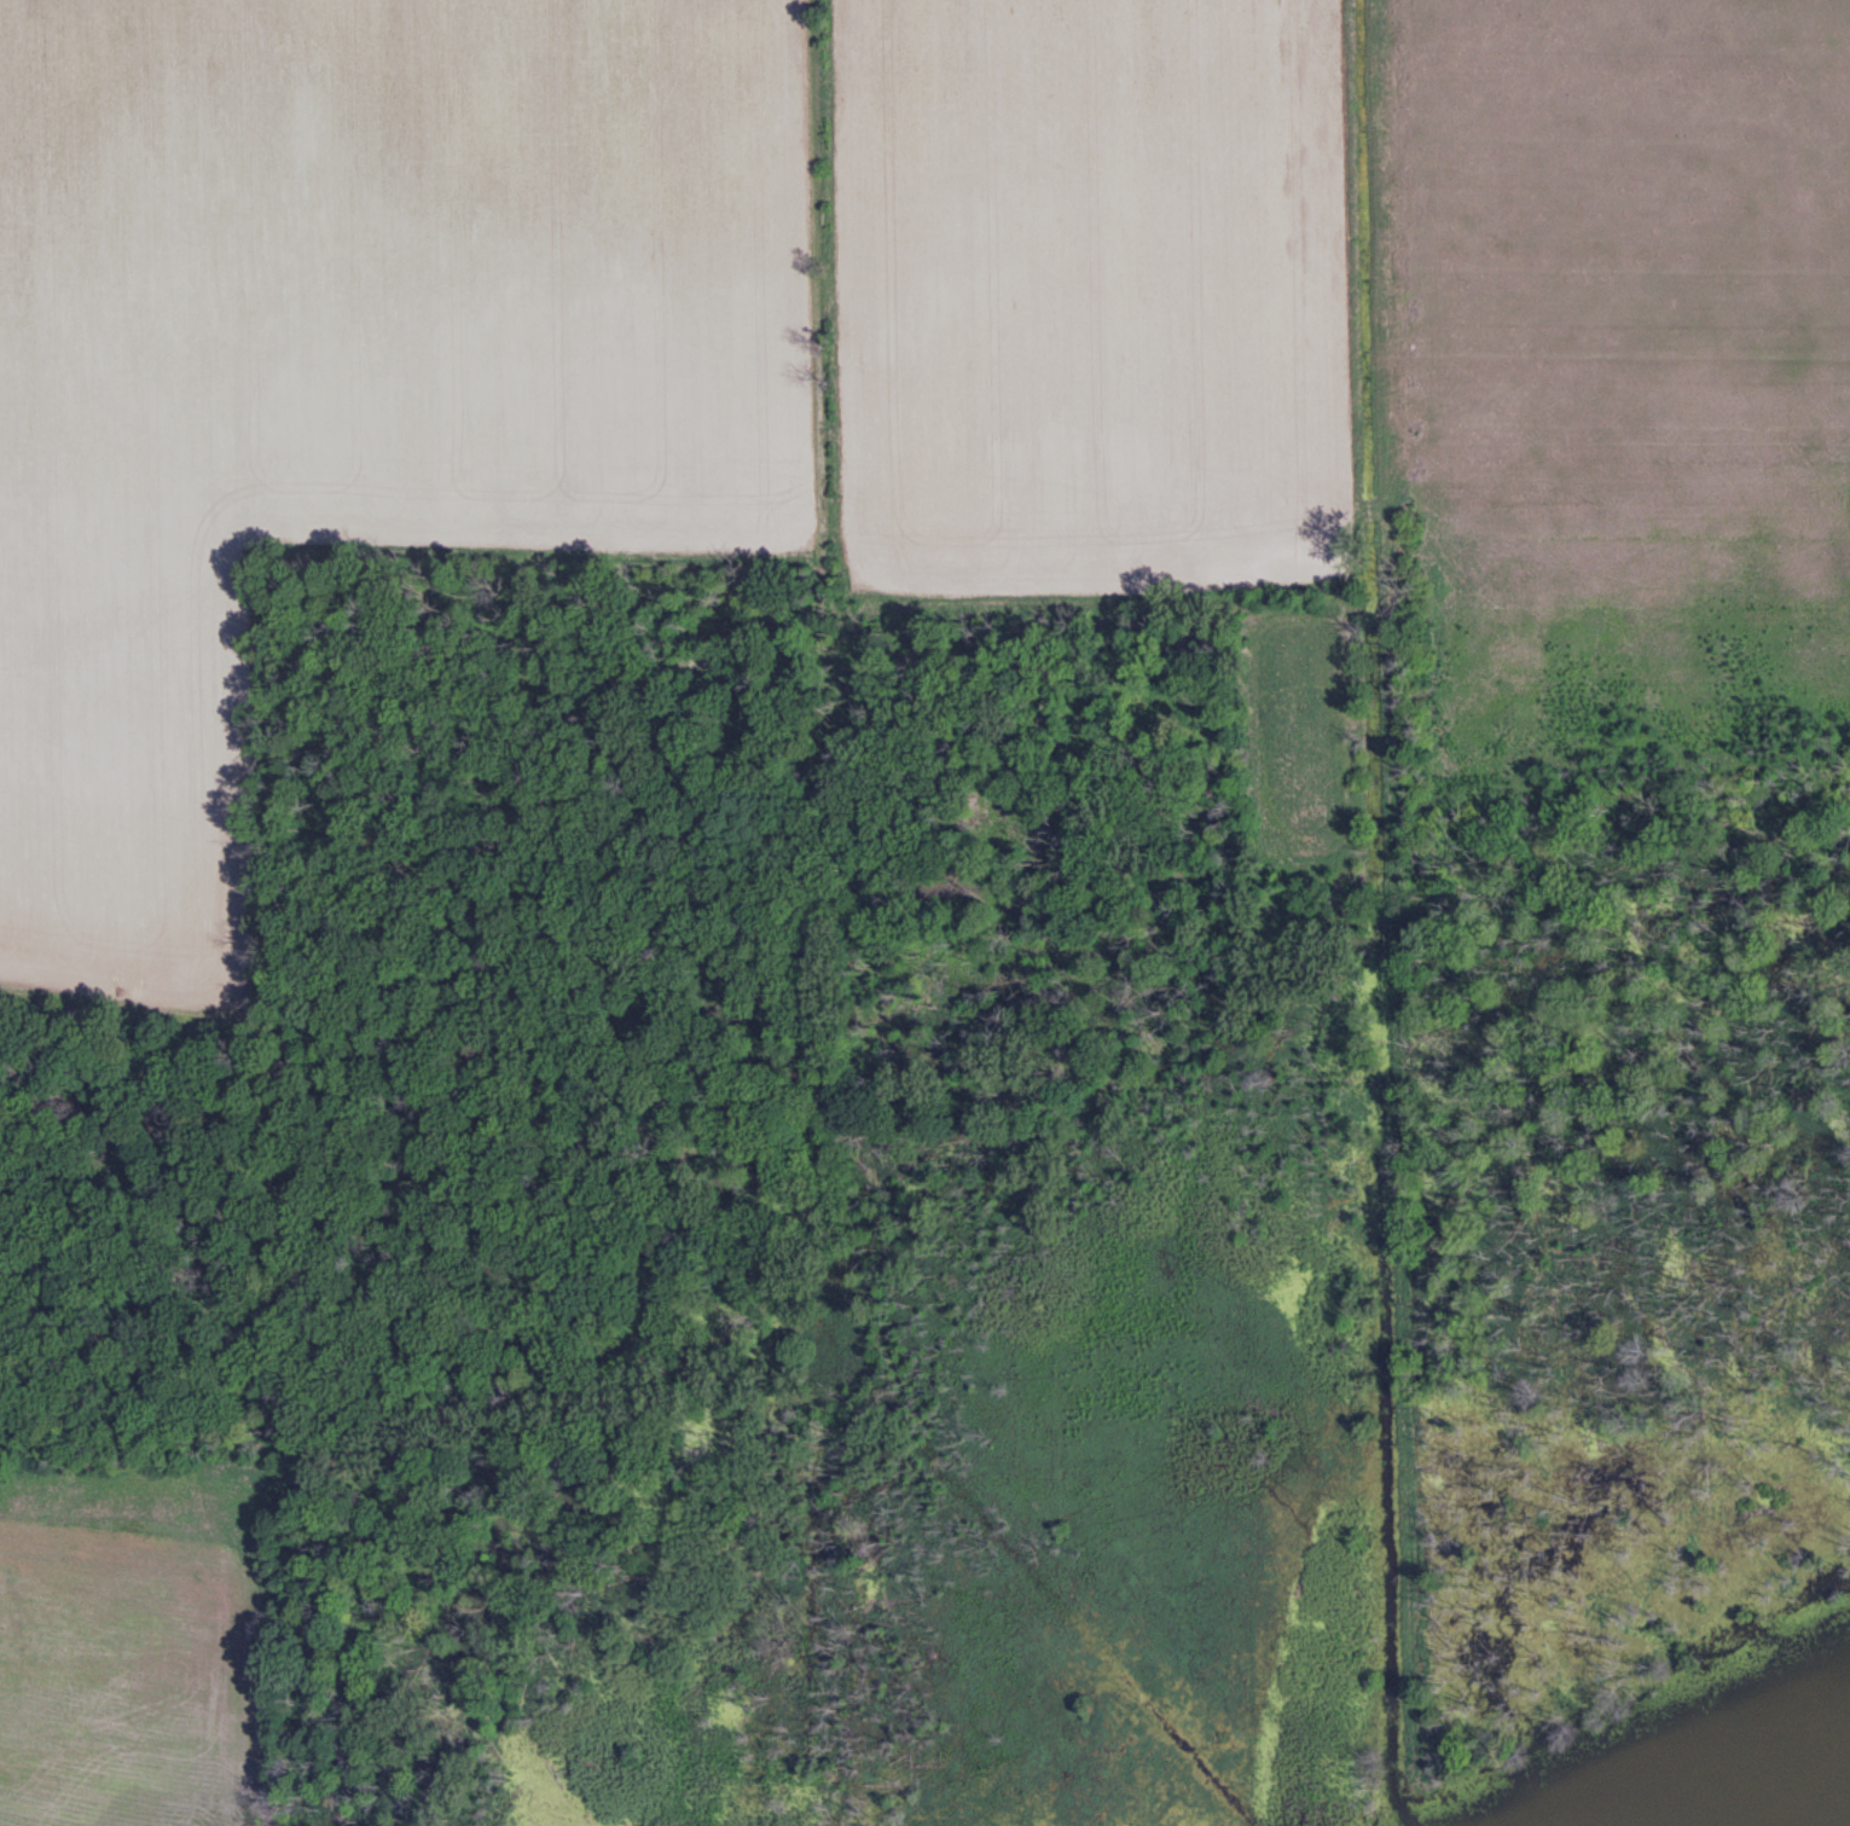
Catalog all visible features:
road: (1384, 894)

